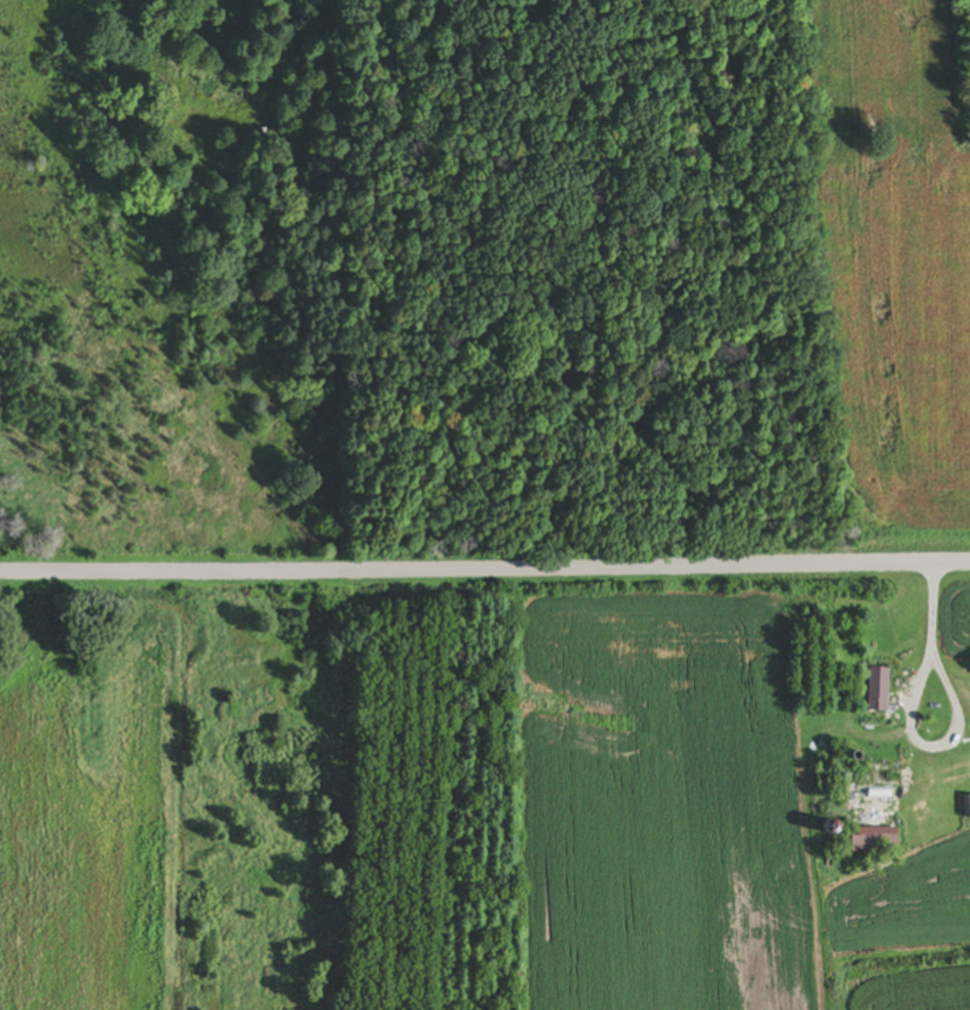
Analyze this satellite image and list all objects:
road: (484, 563)
building: (877, 691)
road: (955, 709)
building: (876, 841)

